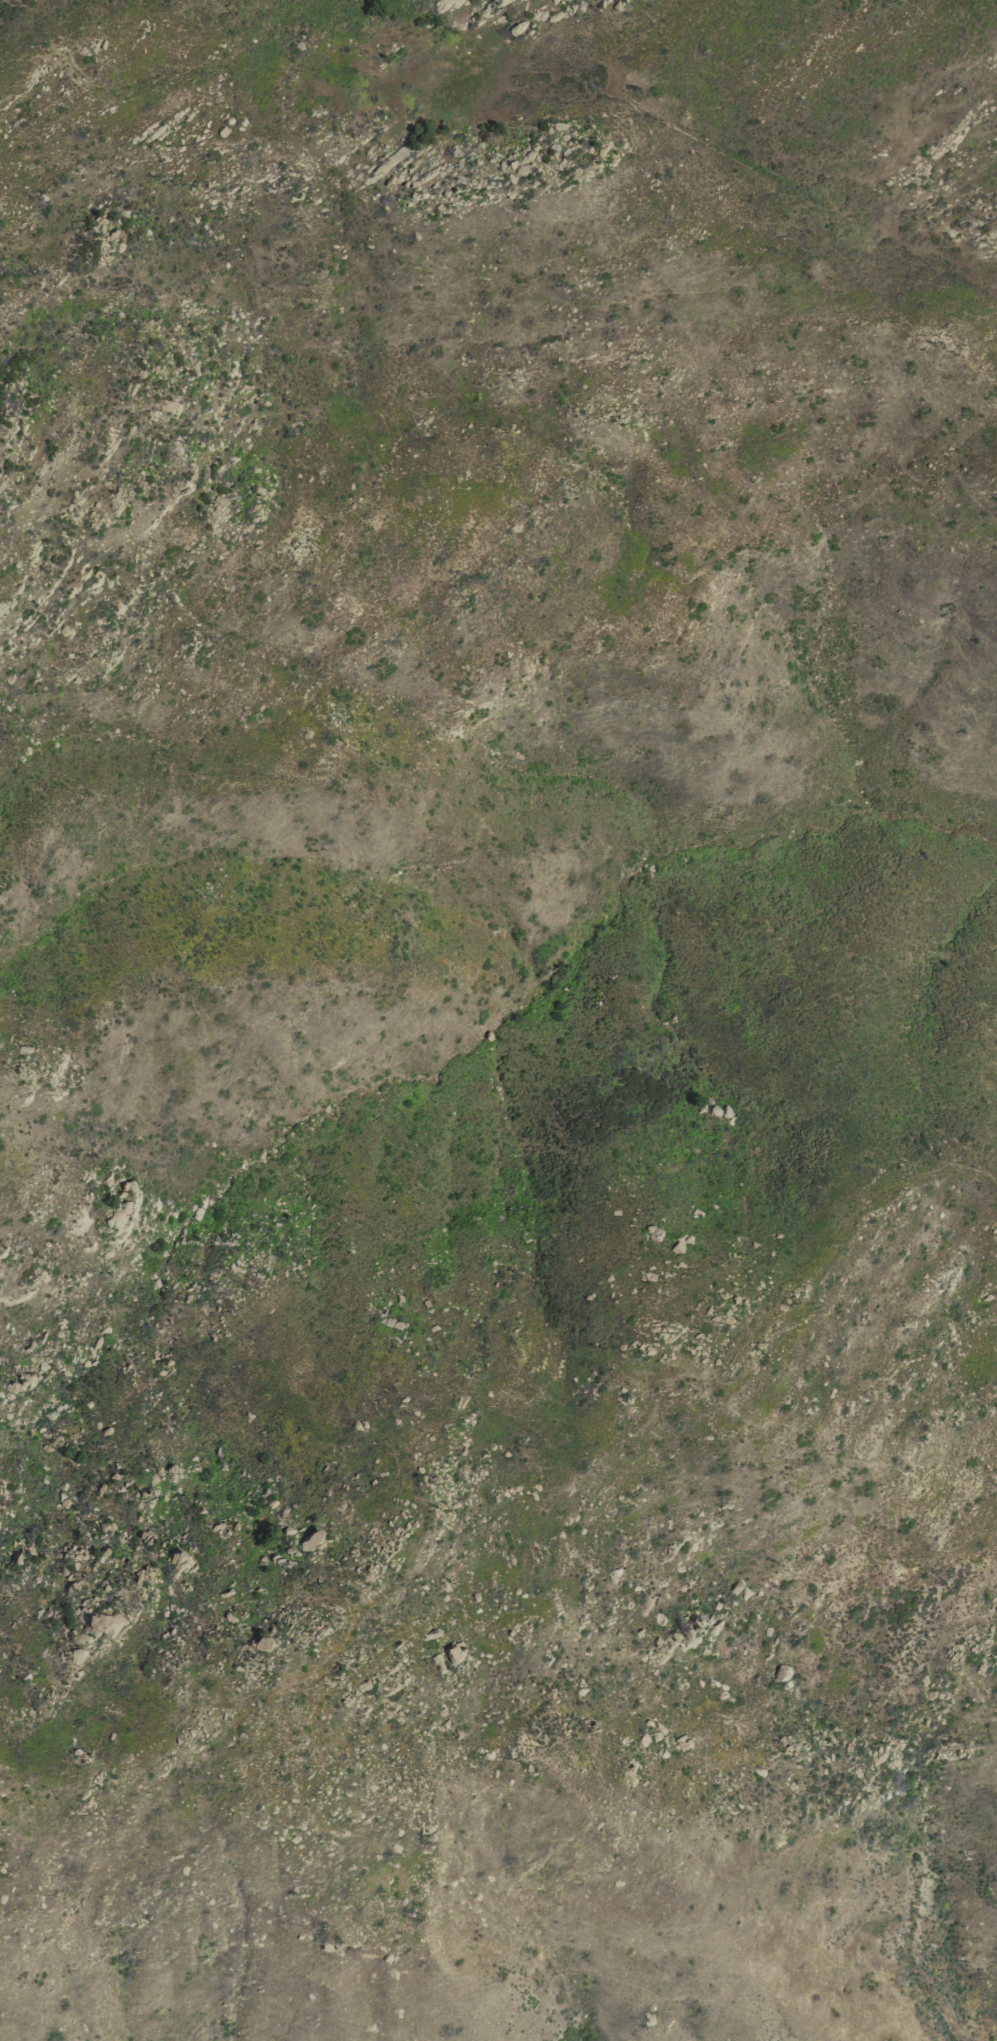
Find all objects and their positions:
road: (922, 1881)

